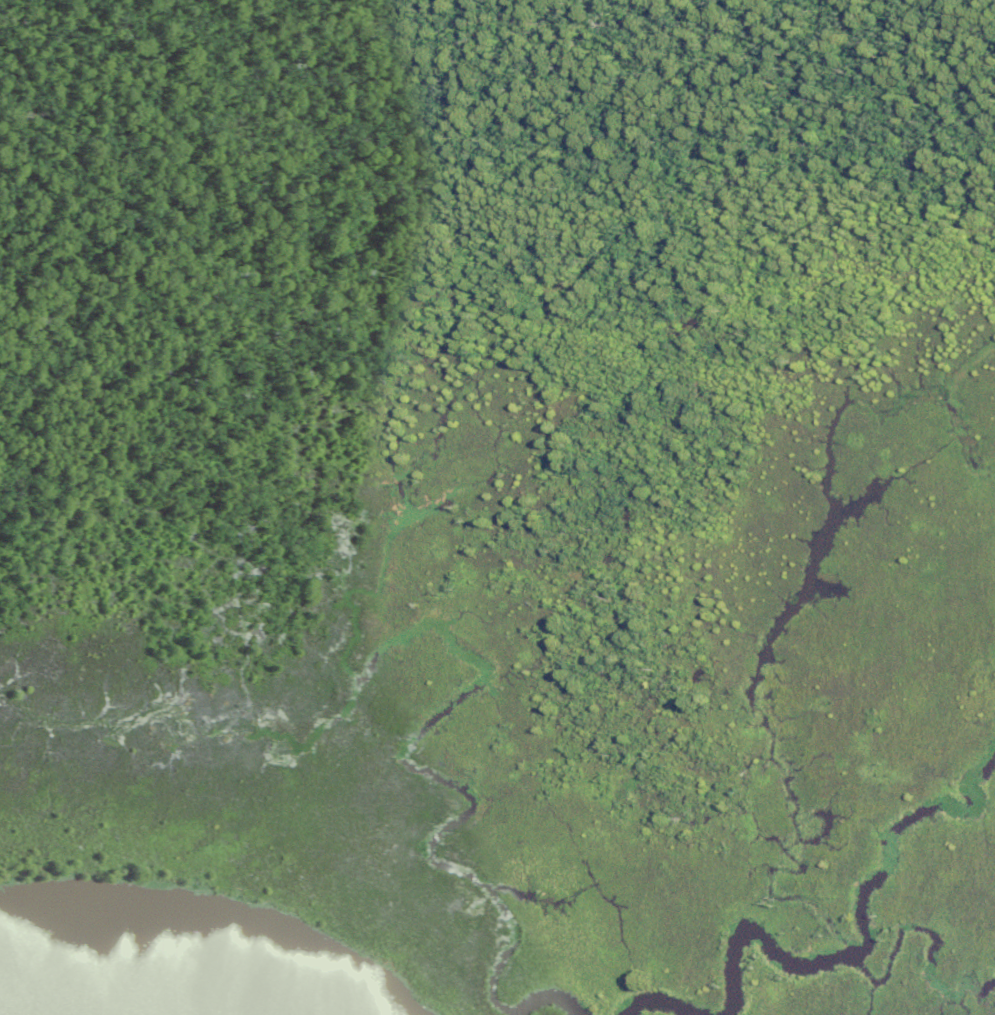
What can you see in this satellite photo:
river: (100, 1009)

